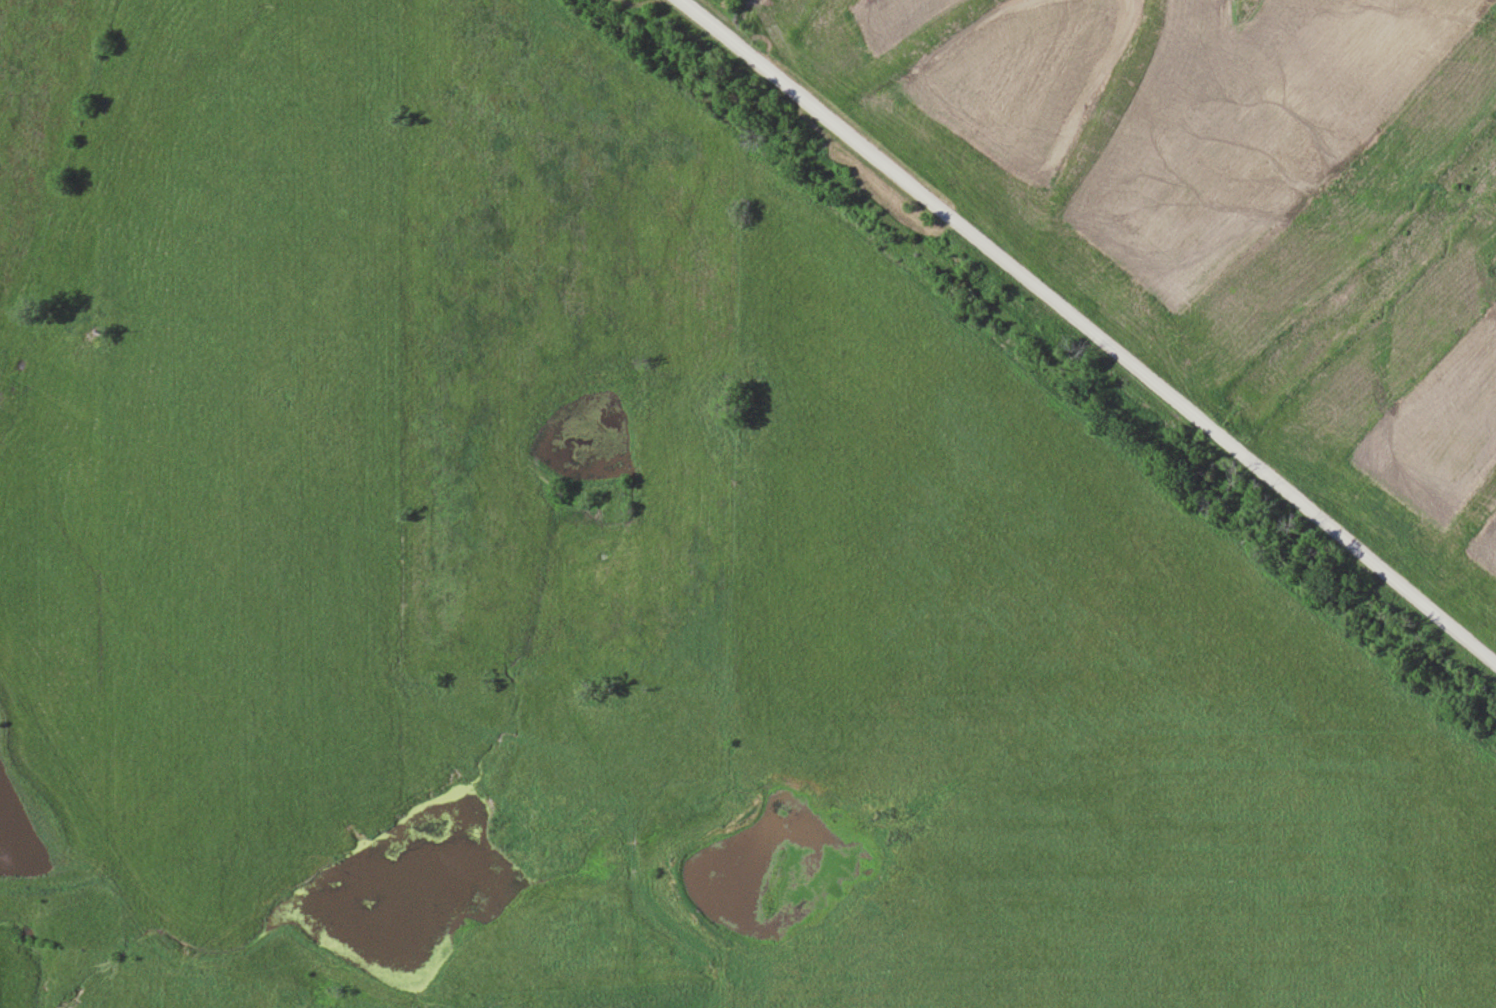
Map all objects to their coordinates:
road: (1086, 331)

